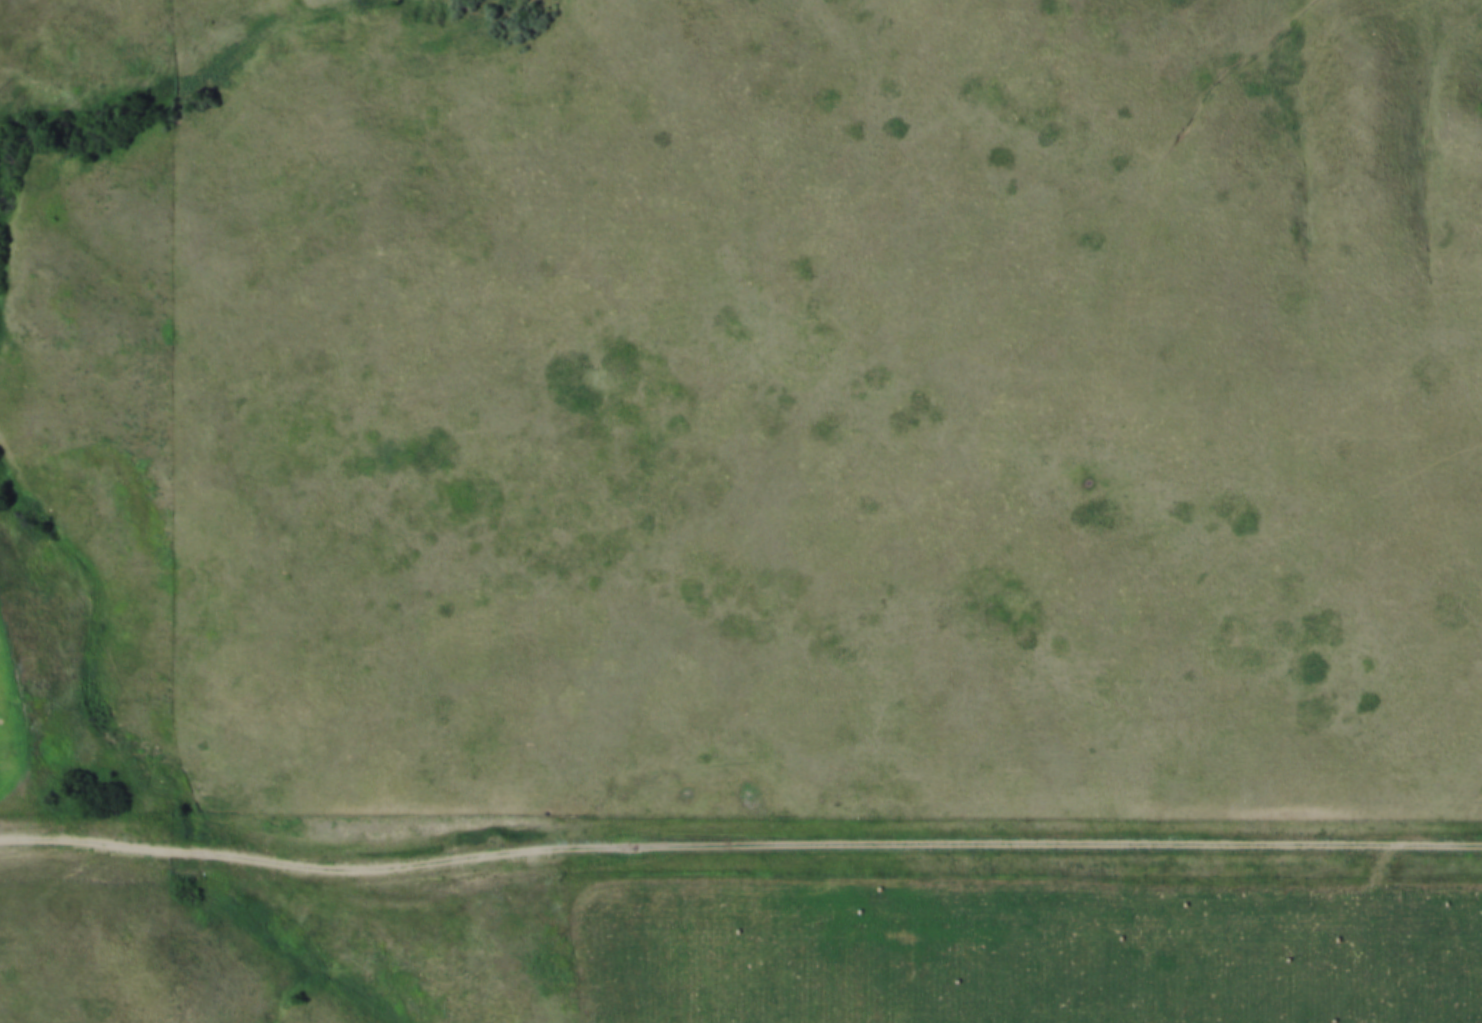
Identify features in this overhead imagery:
road: (737, 836)

